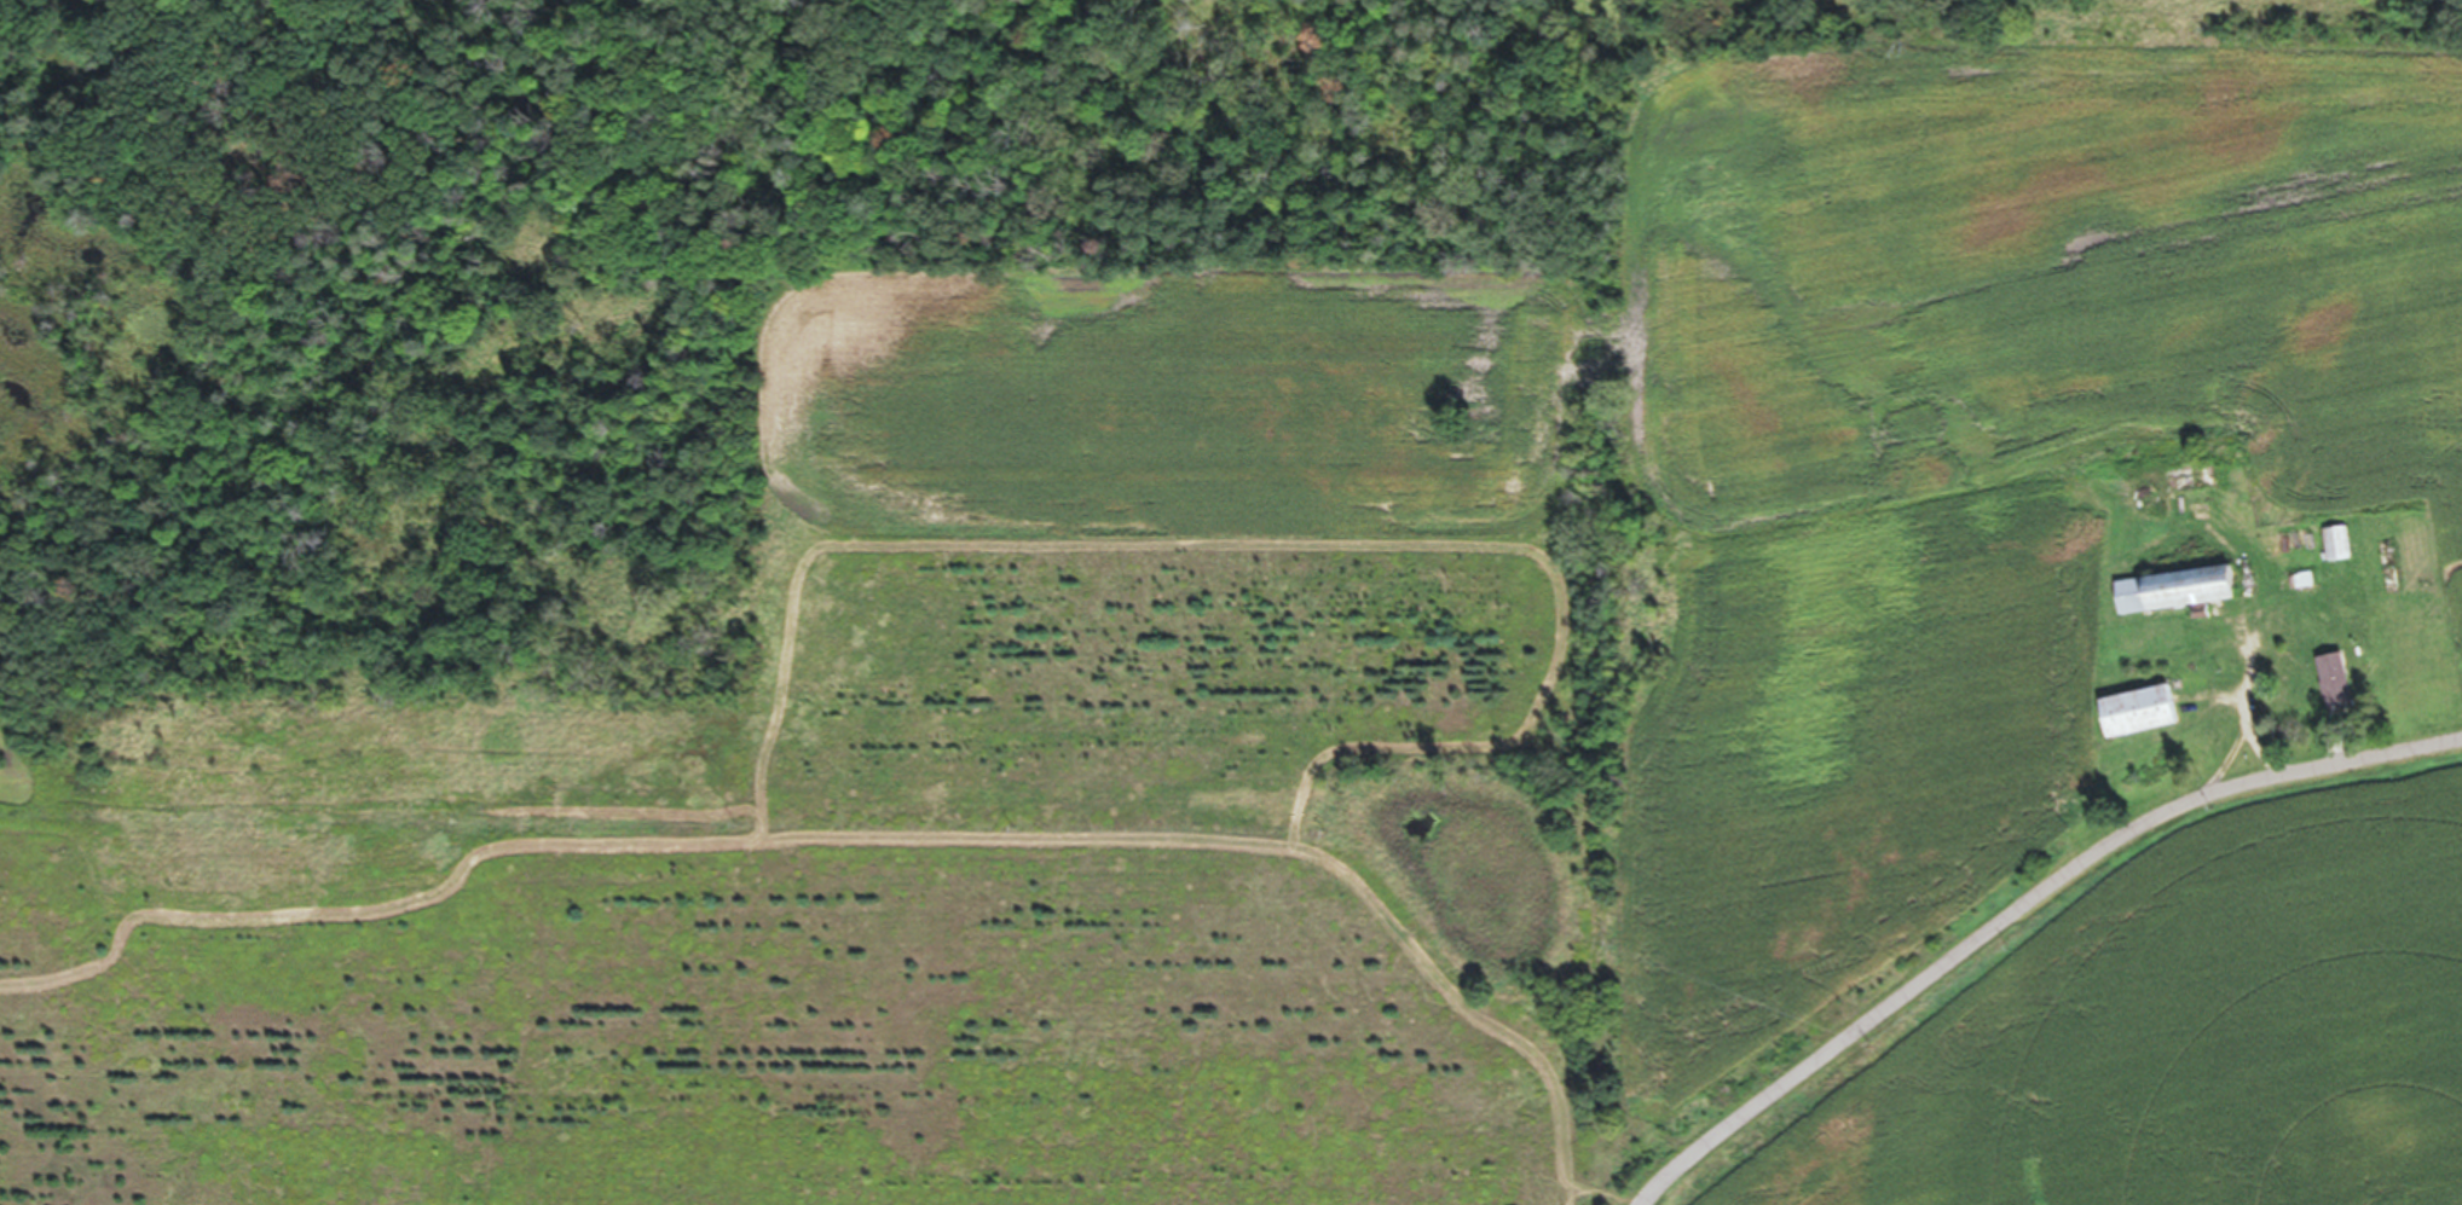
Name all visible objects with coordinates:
building: (2336, 552)
building: (2174, 598)
building: (2334, 691)
building: (2137, 722)
road: (2027, 923)

